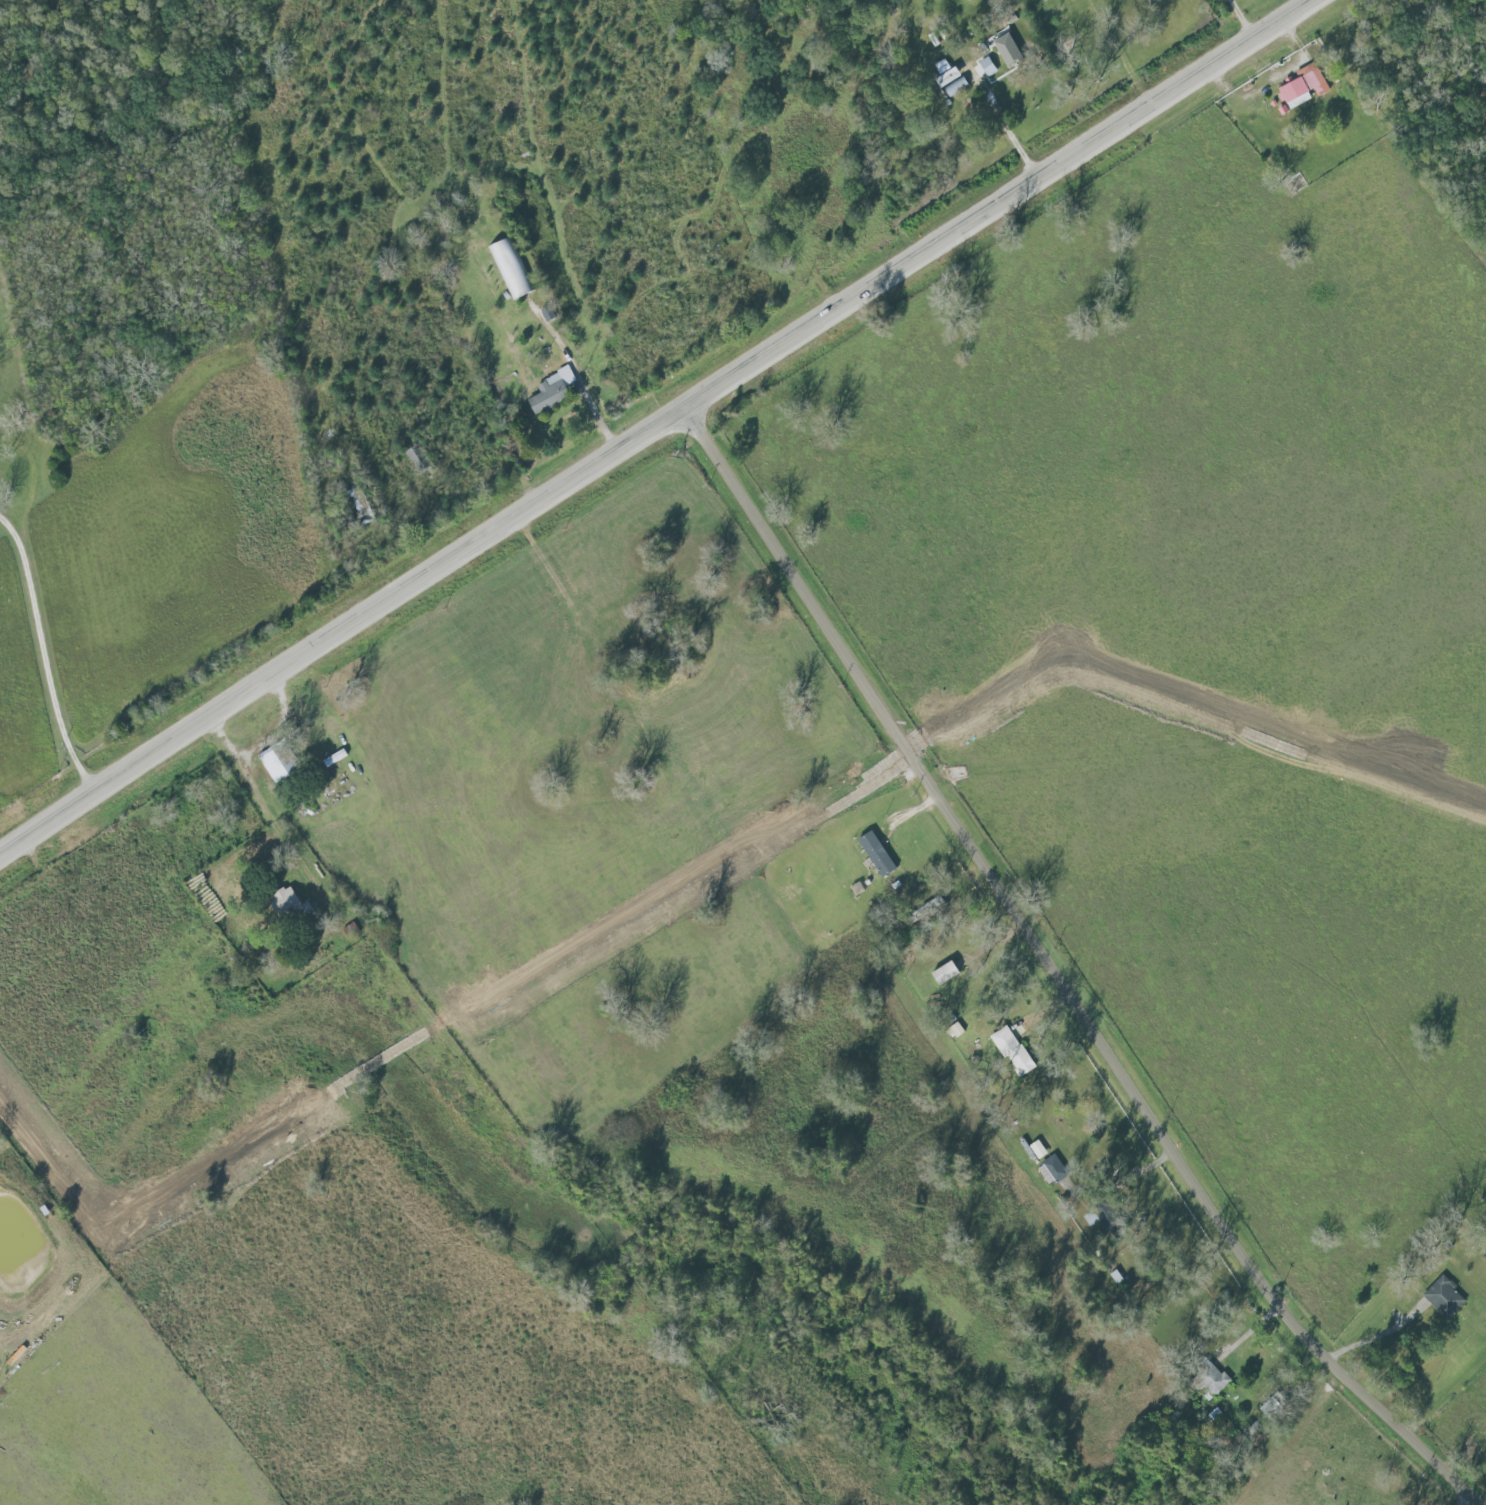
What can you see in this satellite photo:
road: (1243, 20)
building: (1001, 60)
building: (960, 87)
building: (1306, 87)
road: (1011, 126)
building: (513, 271)
building: (546, 393)
road: (660, 431)
building: (421, 460)
building: (364, 505)
building: (284, 763)
road: (266, 805)
building: (880, 855)
building: (936, 908)
building: (295, 910)
building: (948, 973)
road: (1062, 978)
building: (1011, 1046)
building: (1055, 1171)
building: (1104, 1217)
building: (1119, 1280)
building: (1439, 1292)
road: (1477, 1503)

